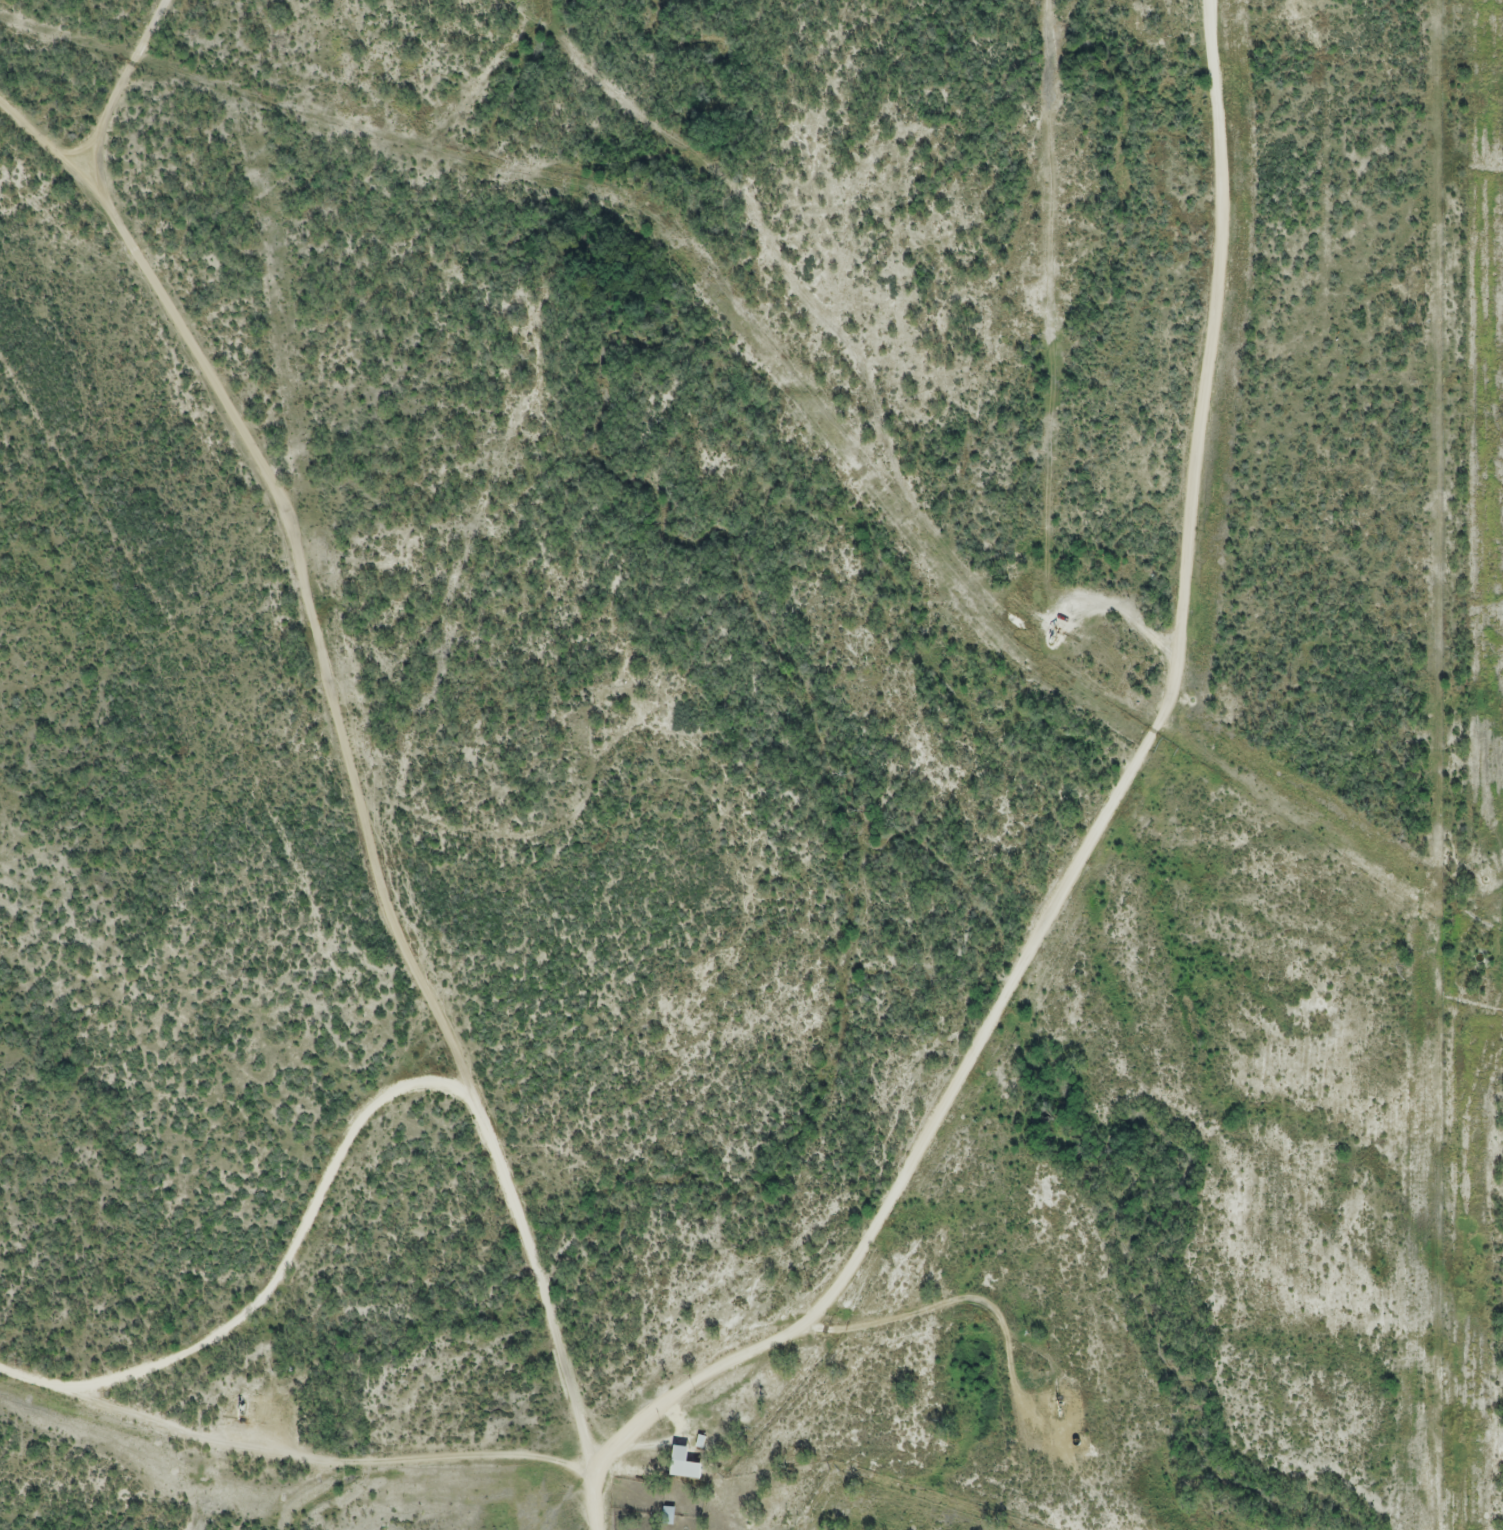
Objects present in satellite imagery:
road: (658, 1399)
building: (701, 1453)
building: (682, 1462)
road: (596, 1502)
building: (667, 1514)

